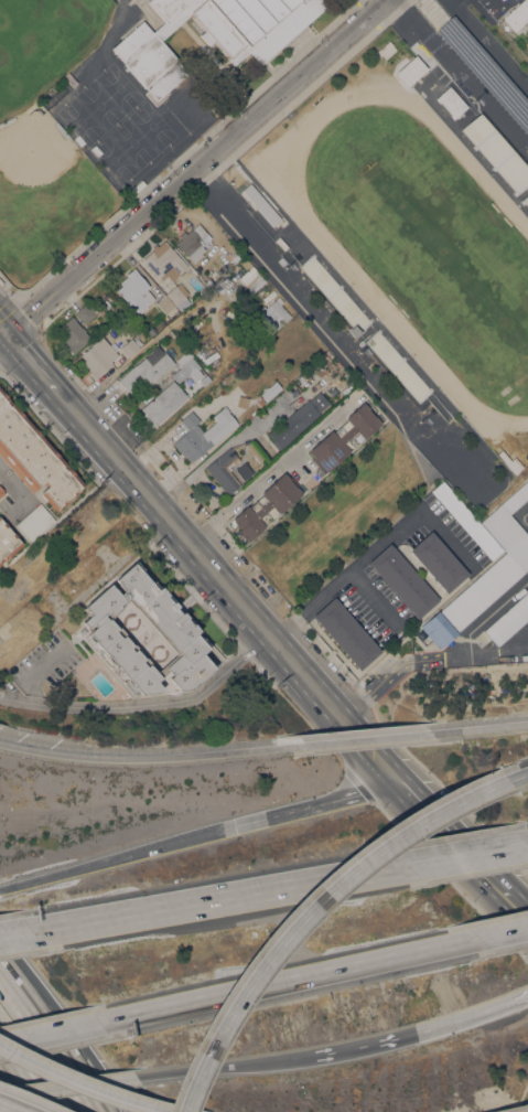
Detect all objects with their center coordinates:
building: (493, 7)
building: (517, 14)
building: (212, 34)
building: (411, 71)
road: (283, 90)
building: (451, 103)
building: (7, 121)
building: (61, 129)
building: (496, 152)
building: (525, 200)
building: (260, 204)
building: (193, 242)
road: (90, 260)
building: (281, 260)
building: (164, 261)
building: (209, 274)
building: (250, 276)
building: (134, 291)
building: (177, 297)
building: (164, 304)
building: (86, 312)
building: (271, 316)
track: (395, 317)
road: (3, 331)
building: (353, 331)
building: (73, 334)
traffic signals: (7, 335)
building: (130, 345)
building: (97, 356)
road: (31, 363)
building: (188, 365)
building: (147, 368)
building: (270, 389)
building: (164, 402)
building: (259, 402)
building: (298, 419)
building: (202, 434)
building: (343, 438)
building: (34, 457)
road: (271, 468)
building: (225, 470)
building: (1, 491)
building: (267, 505)
building: (465, 518)
road: (522, 518)
building: (34, 522)
road: (176, 528)
building: (7, 542)
building: (439, 562)
building: (485, 570)
road: (345, 574)
building: (402, 580)
building: (508, 620)
building: (175, 629)
building: (346, 633)
road: (468, 634)
road: (397, 666)
road: (146, 707)
road: (349, 725)
road: (479, 729)
road: (358, 740)
road: (409, 748)
road: (142, 759)
road: (516, 777)
road: (320, 804)
traffic signals: (239, 826)
road: (456, 843)
road: (471, 855)
road: (119, 857)
road: (224, 898)
road: (520, 910)
road: (309, 911)
road: (17, 934)
road: (505, 934)
road: (2, 965)
road: (23, 979)
road: (292, 982)
road: (452, 1020)
road: (51, 1036)
road: (51, 1039)
road: (344, 1049)
road: (85, 1051)
road: (10, 1063)
road: (225, 1066)
road: (68, 1084)
road: (84, 1084)
road: (30, 1094)
road: (7, 1099)
road: (12, 1106)
road: (527, 1111)

